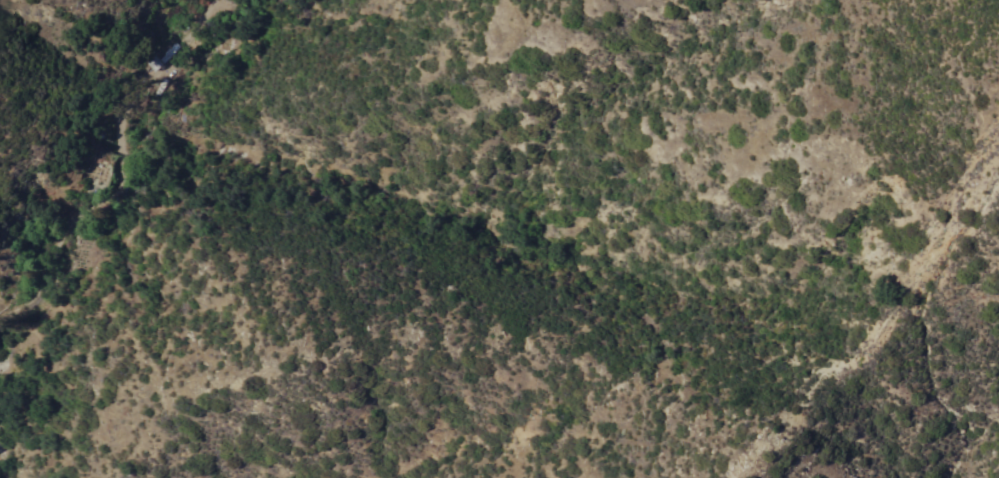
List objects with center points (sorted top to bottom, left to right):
road: (90, 155)

